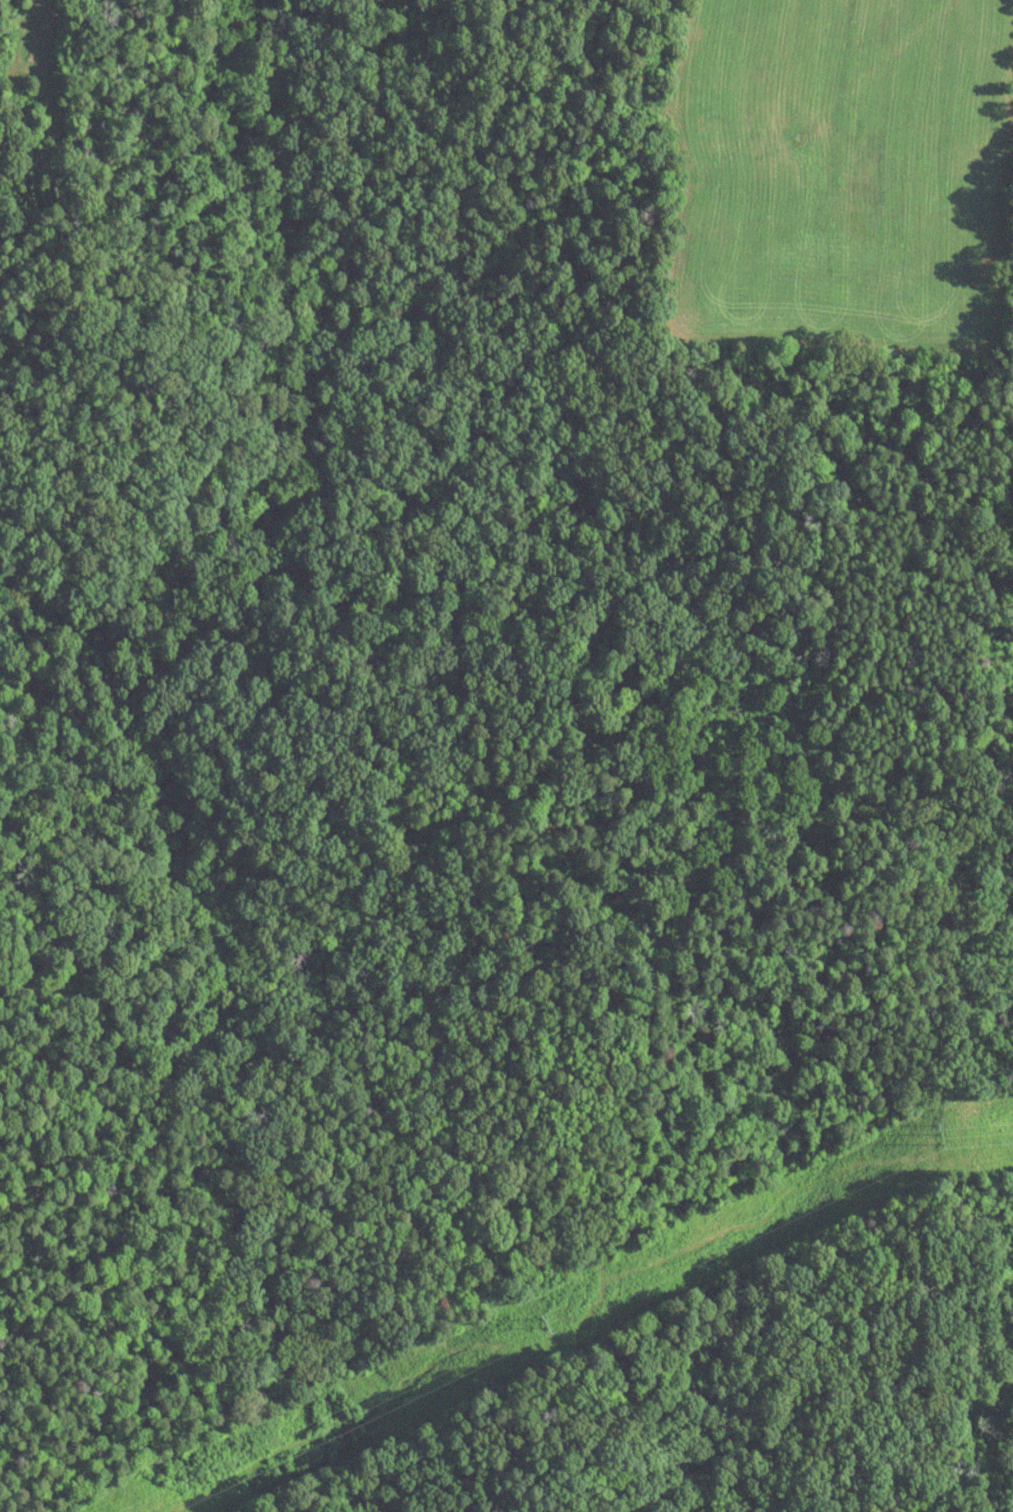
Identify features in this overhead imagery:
power tower: (944, 1134)
power tower: (549, 1322)

